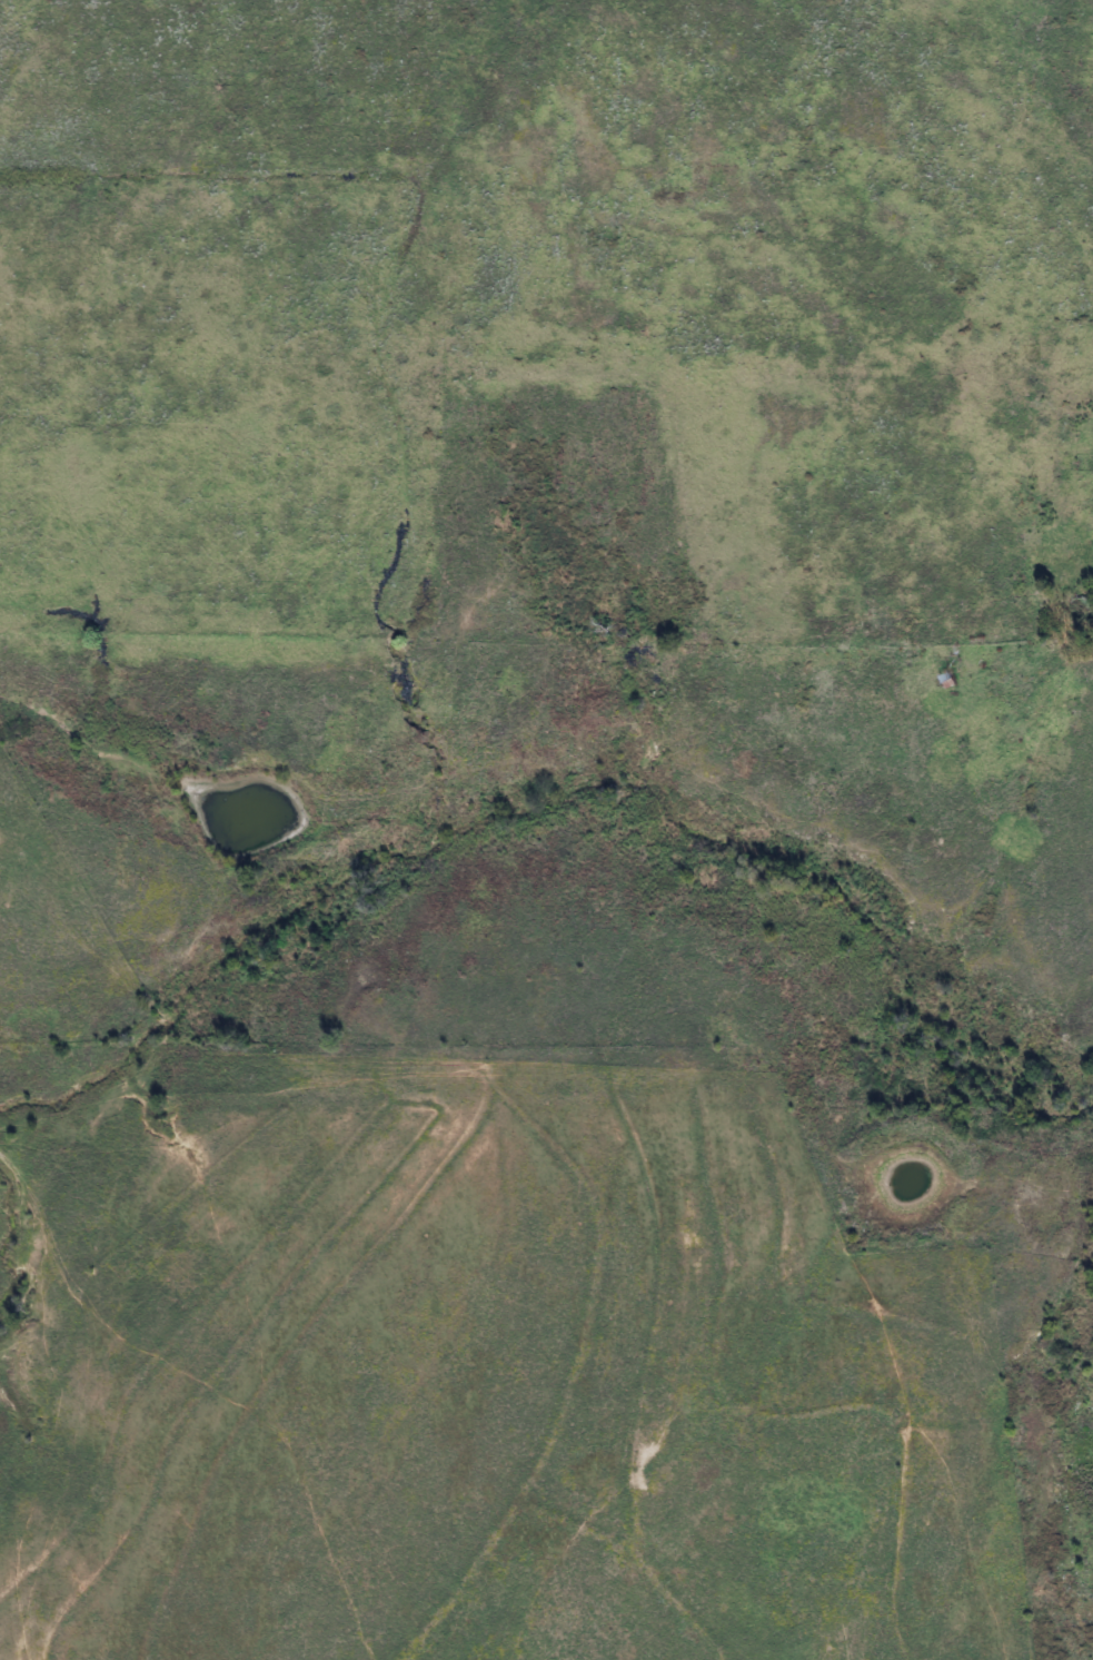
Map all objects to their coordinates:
building: (943, 681)

